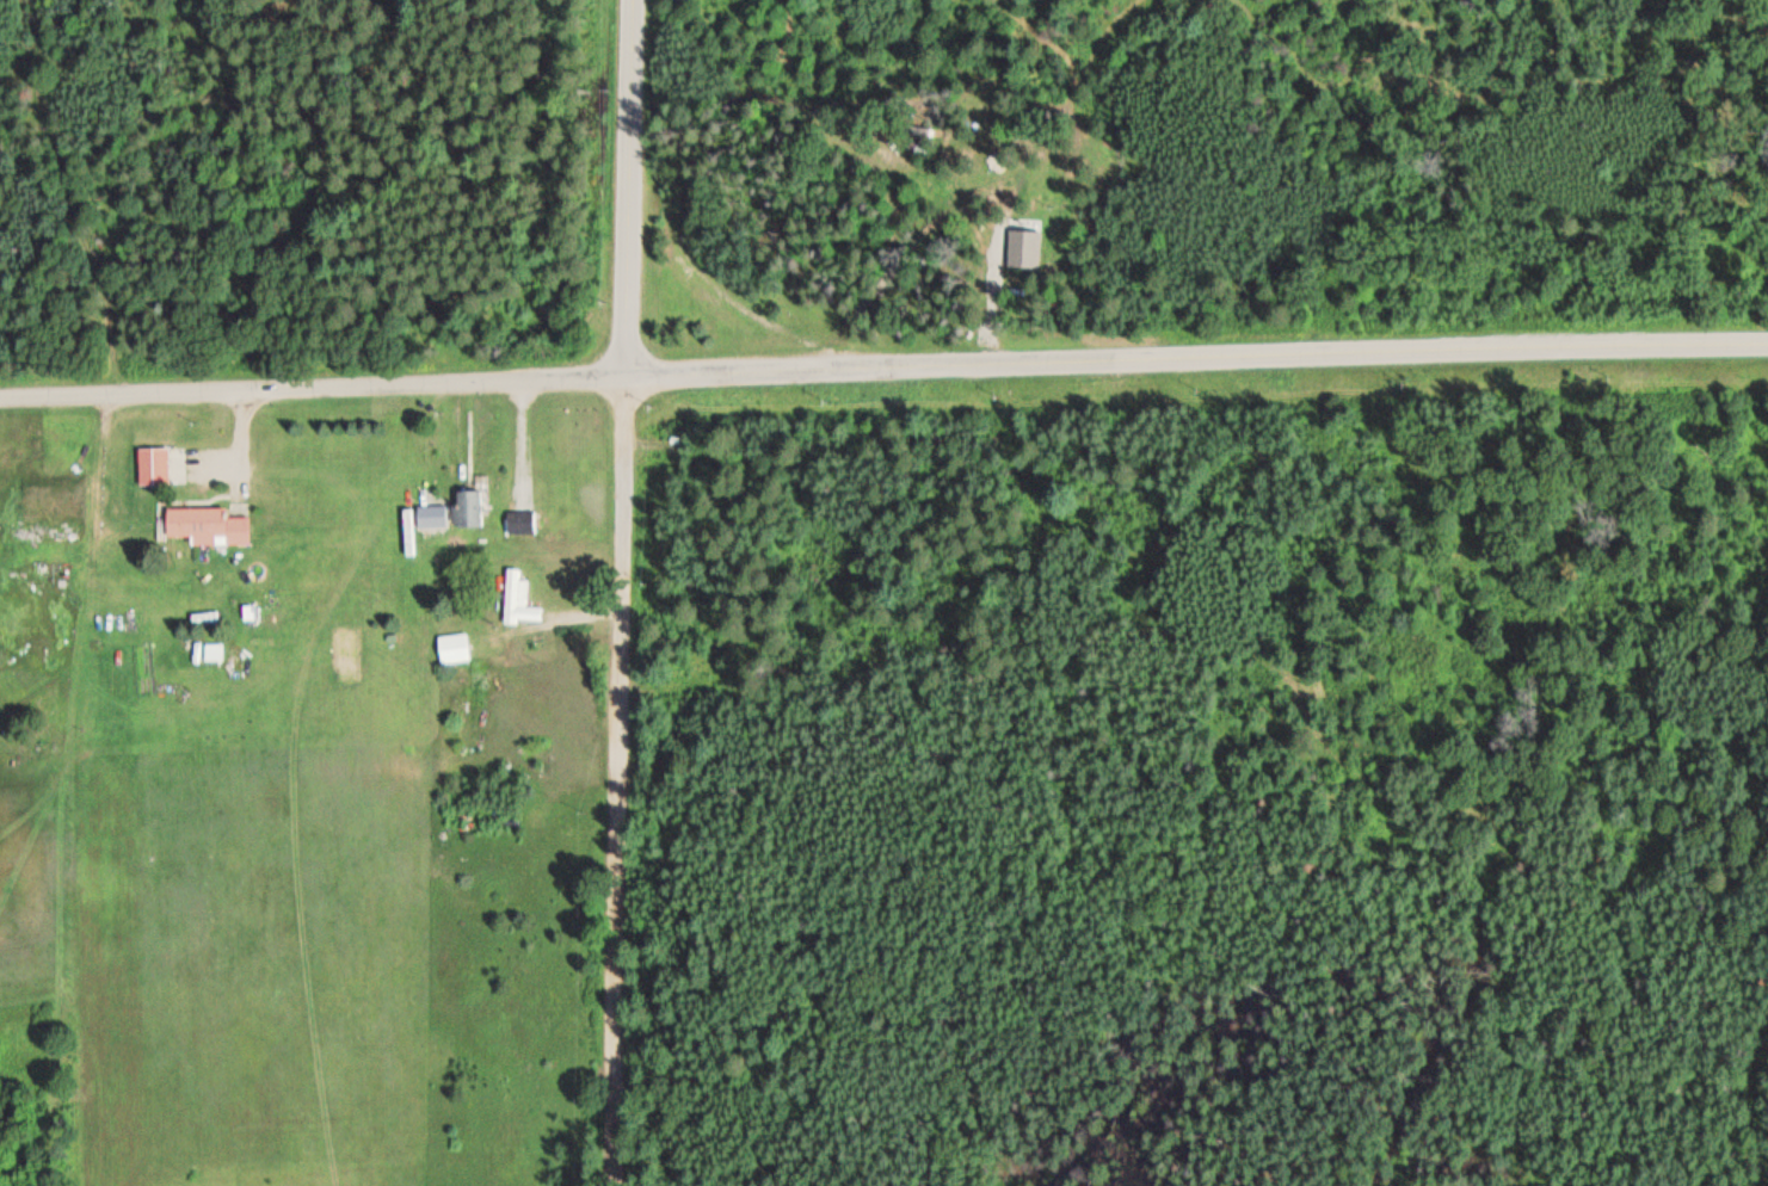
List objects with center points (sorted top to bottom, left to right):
road: (627, 185)
road: (1196, 356)
road: (313, 387)
road: (522, 428)
road: (240, 456)
building: (159, 465)
road: (238, 481)
building: (472, 507)
building: (518, 523)
building: (209, 525)
building: (519, 599)
building: (454, 648)
building: (214, 650)
road: (620, 779)

